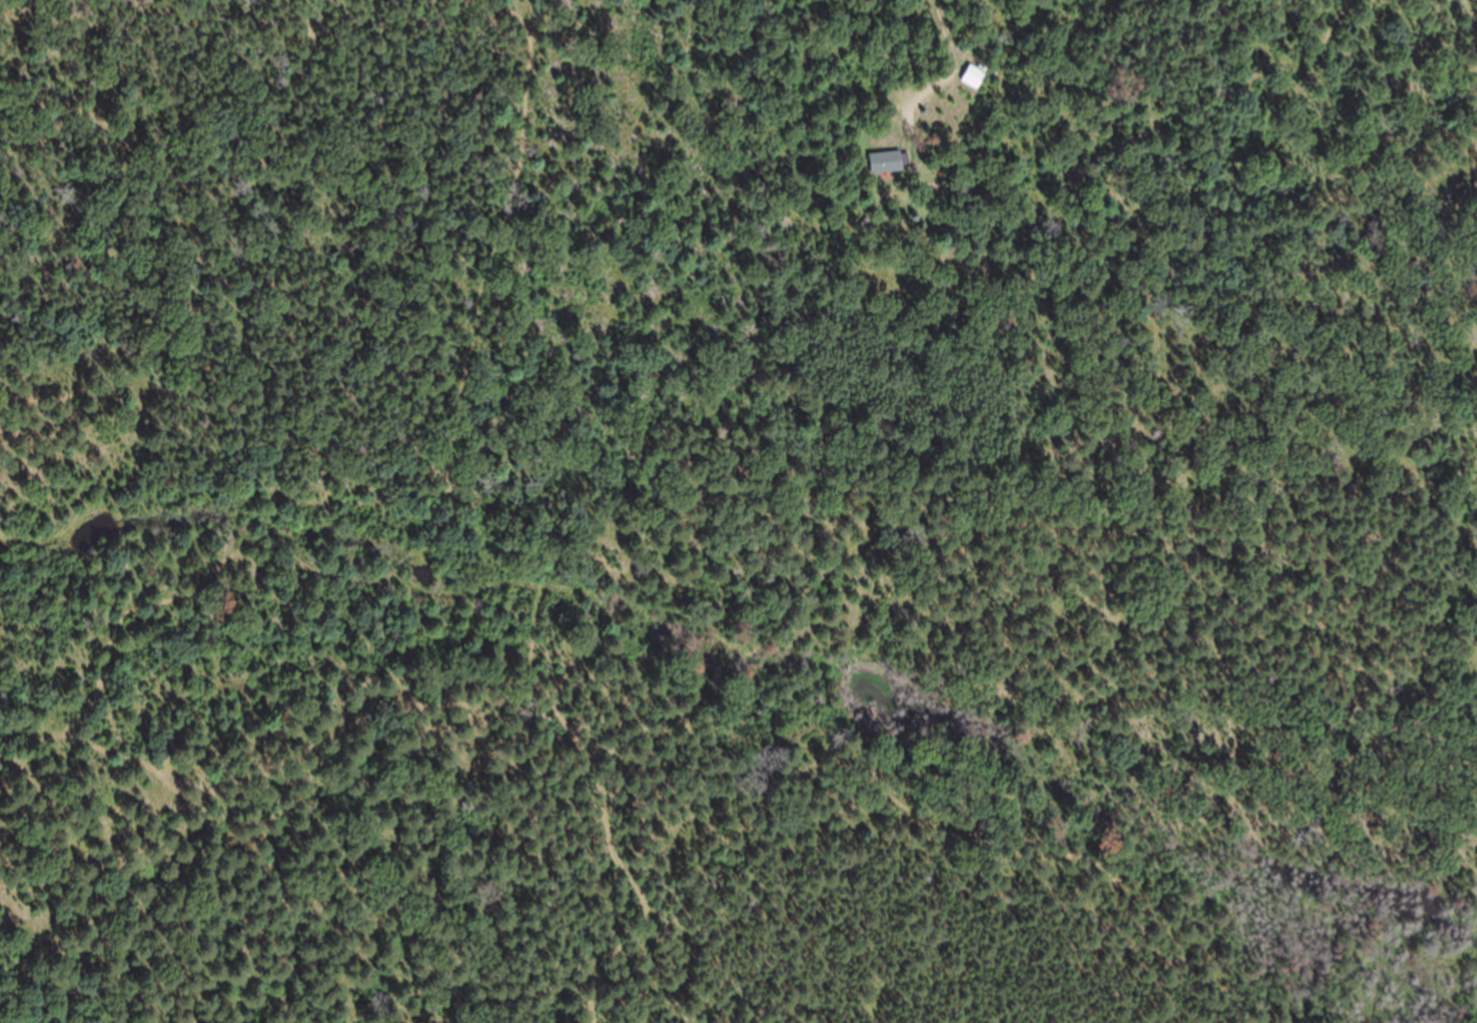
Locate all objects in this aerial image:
building: (976, 88)
building: (888, 173)

